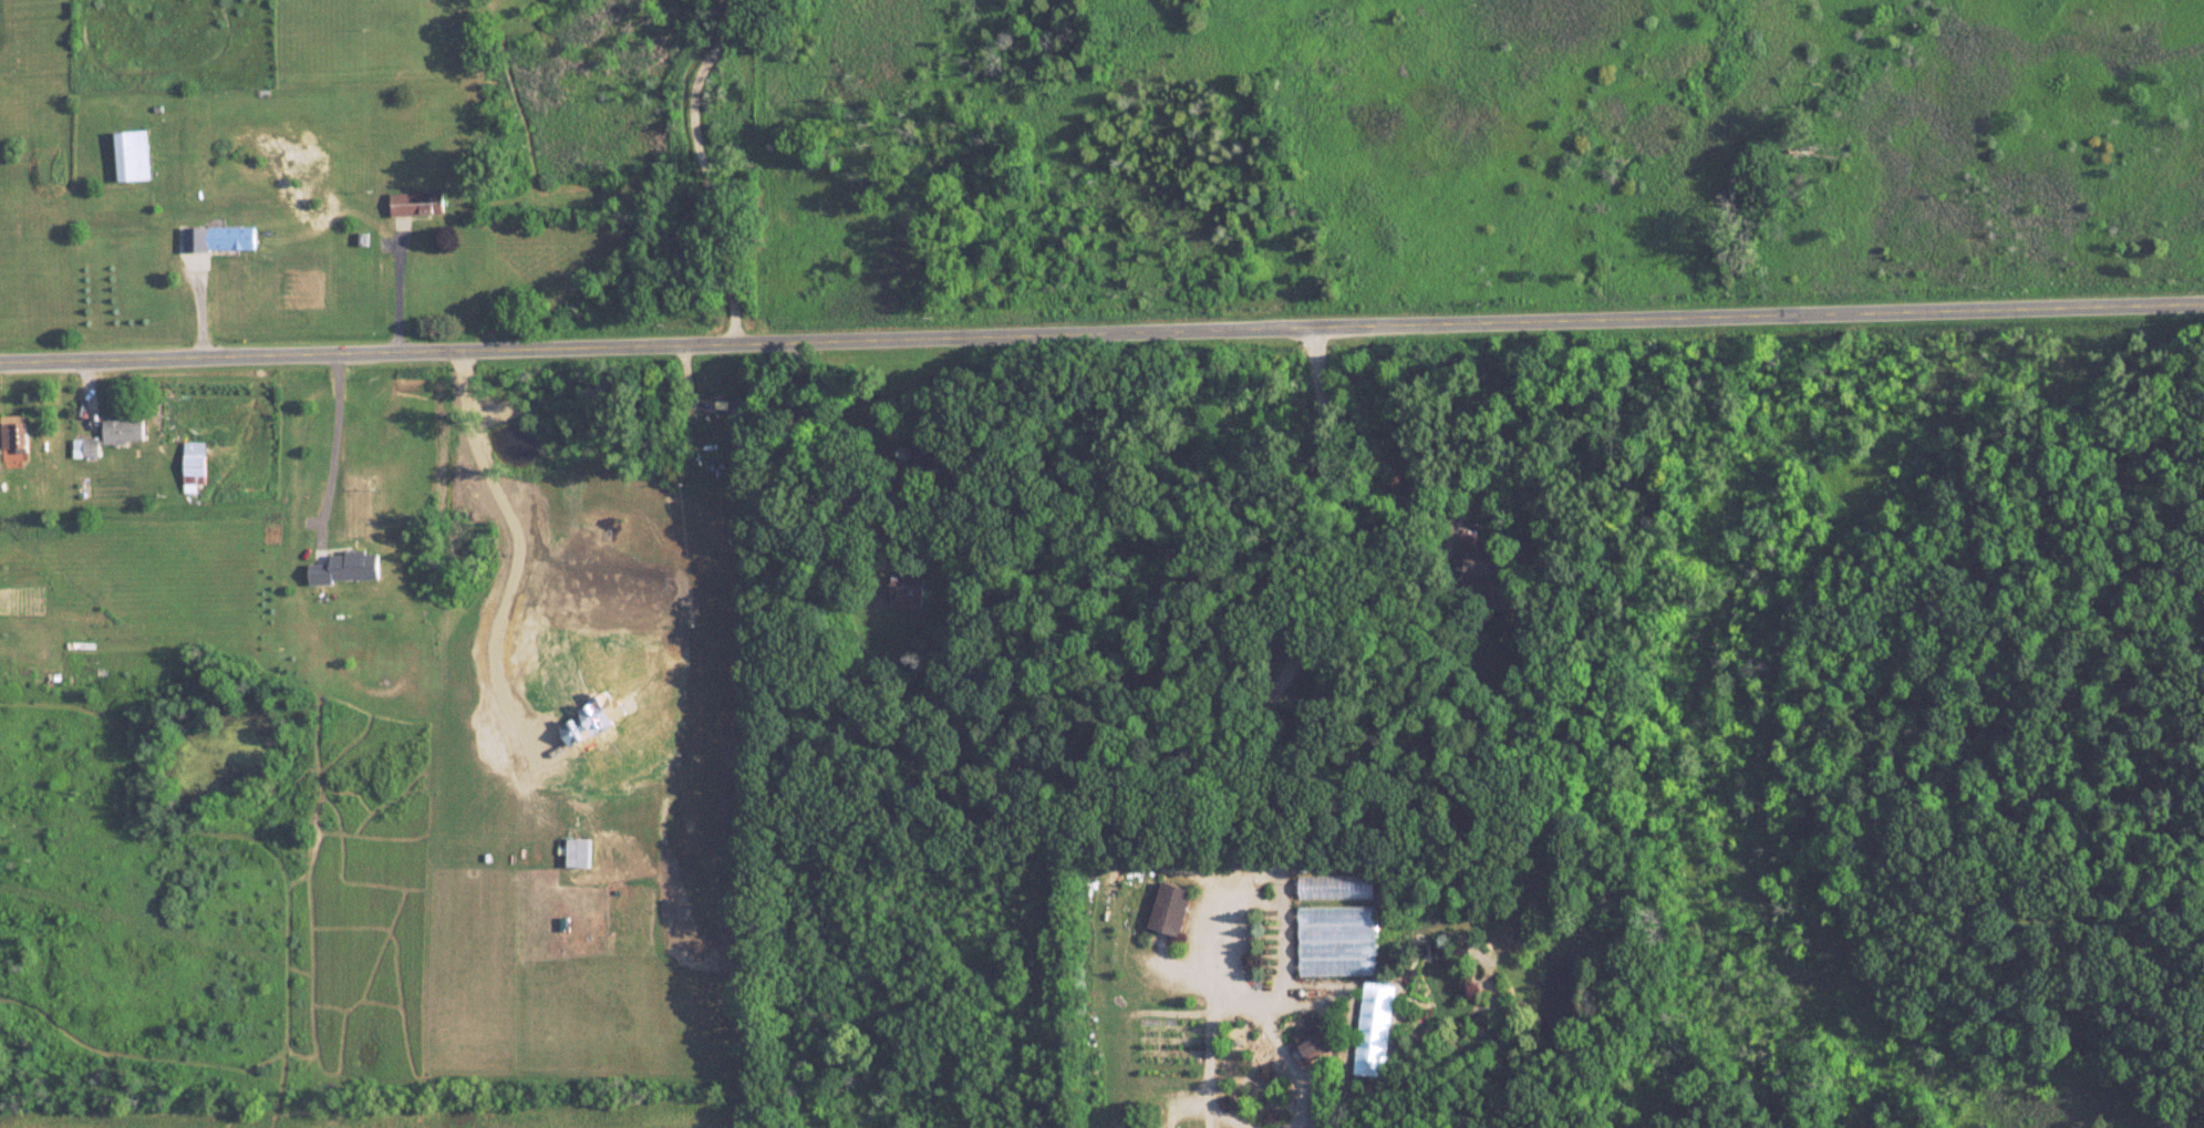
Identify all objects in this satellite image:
building: (138, 155)
road: (703, 169)
building: (418, 203)
building: (223, 238)
road: (396, 289)
road: (1101, 337)
building: (741, 408)
building: (17, 431)
building: (124, 431)
road: (337, 445)
building: (92, 447)
building: (937, 455)
building: (195, 469)
building: (1493, 566)
building: (349, 567)
building: (909, 591)
road: (1313, 655)
building: (1339, 887)
building: (1172, 907)
building: (1341, 940)
building: (1315, 1039)

